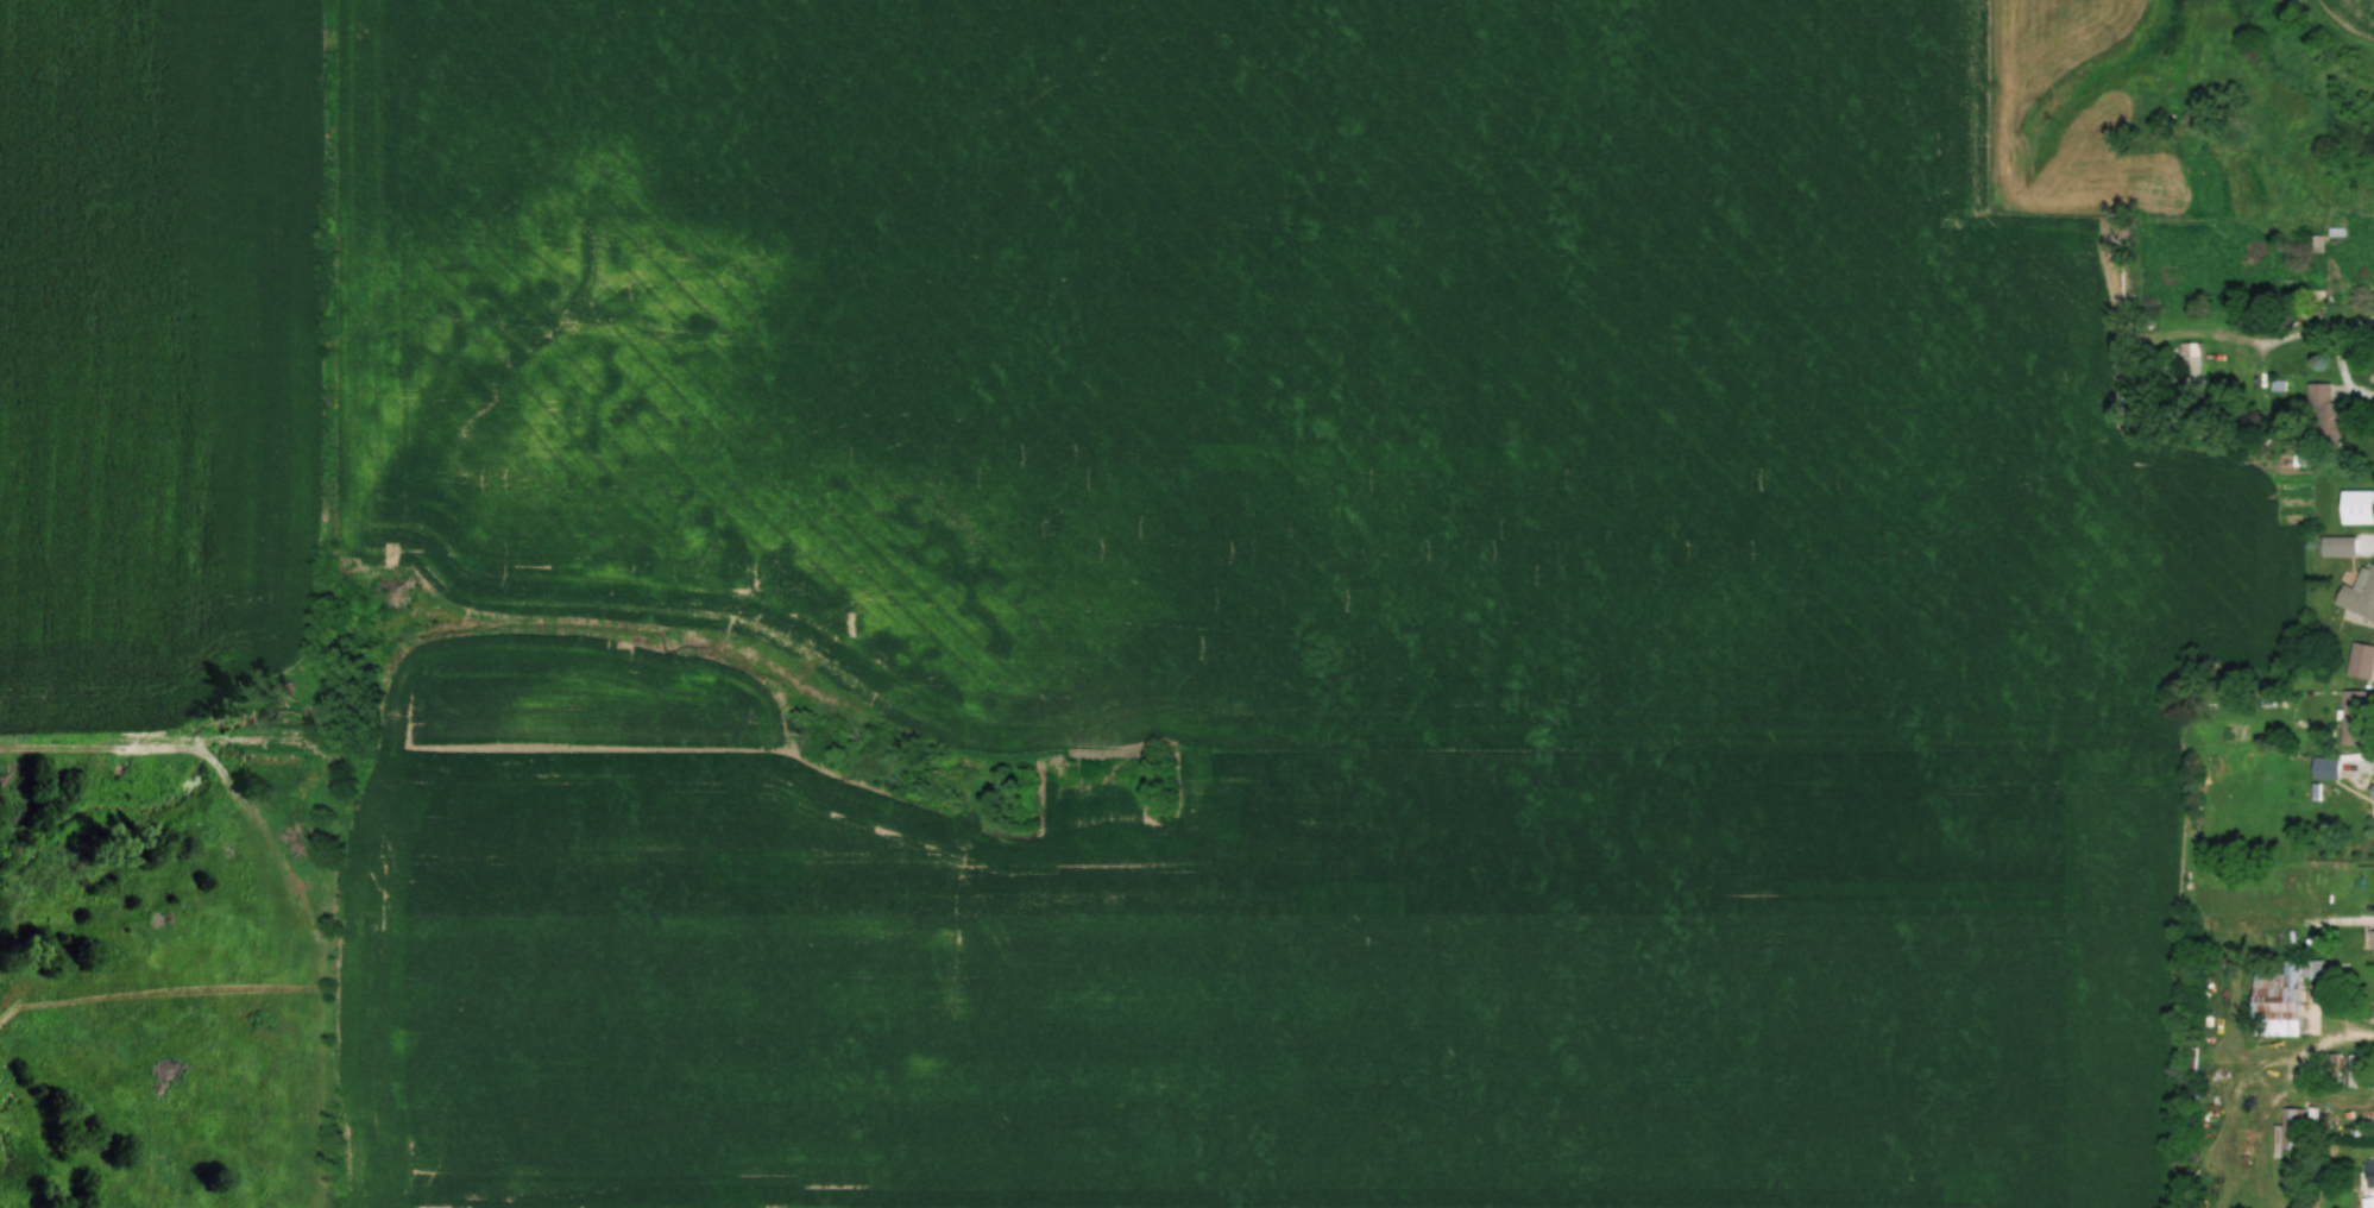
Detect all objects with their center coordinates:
building: (2191, 366)
building: (2328, 413)
building: (2357, 508)
building: (2341, 546)
building: (2360, 594)
building: (2362, 661)
building: (2360, 718)
building: (2328, 768)
building: (2284, 998)
building: (2294, 1127)
building: (2370, 1172)

